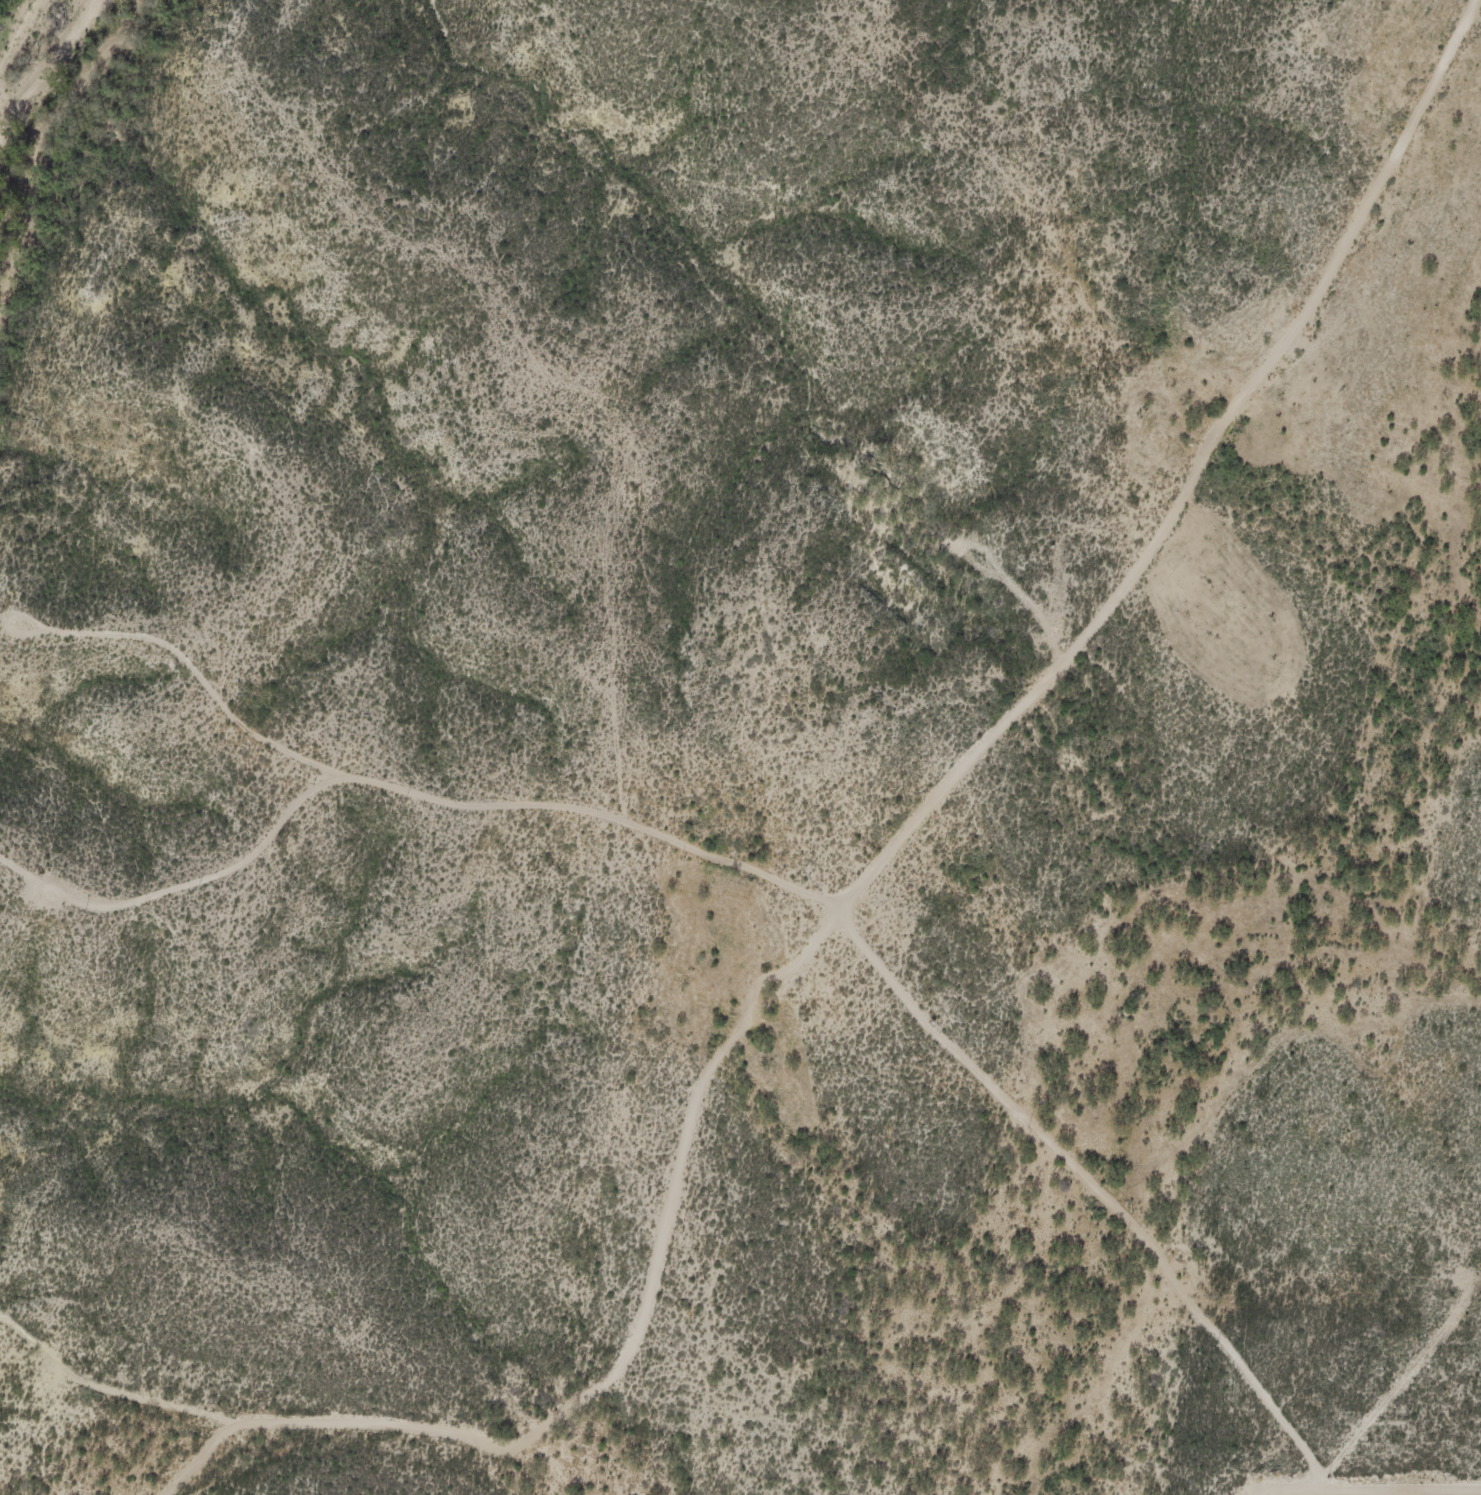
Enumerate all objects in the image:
road: (587, 423)
road: (1198, 476)
road: (426, 798)
road: (693, 1139)

